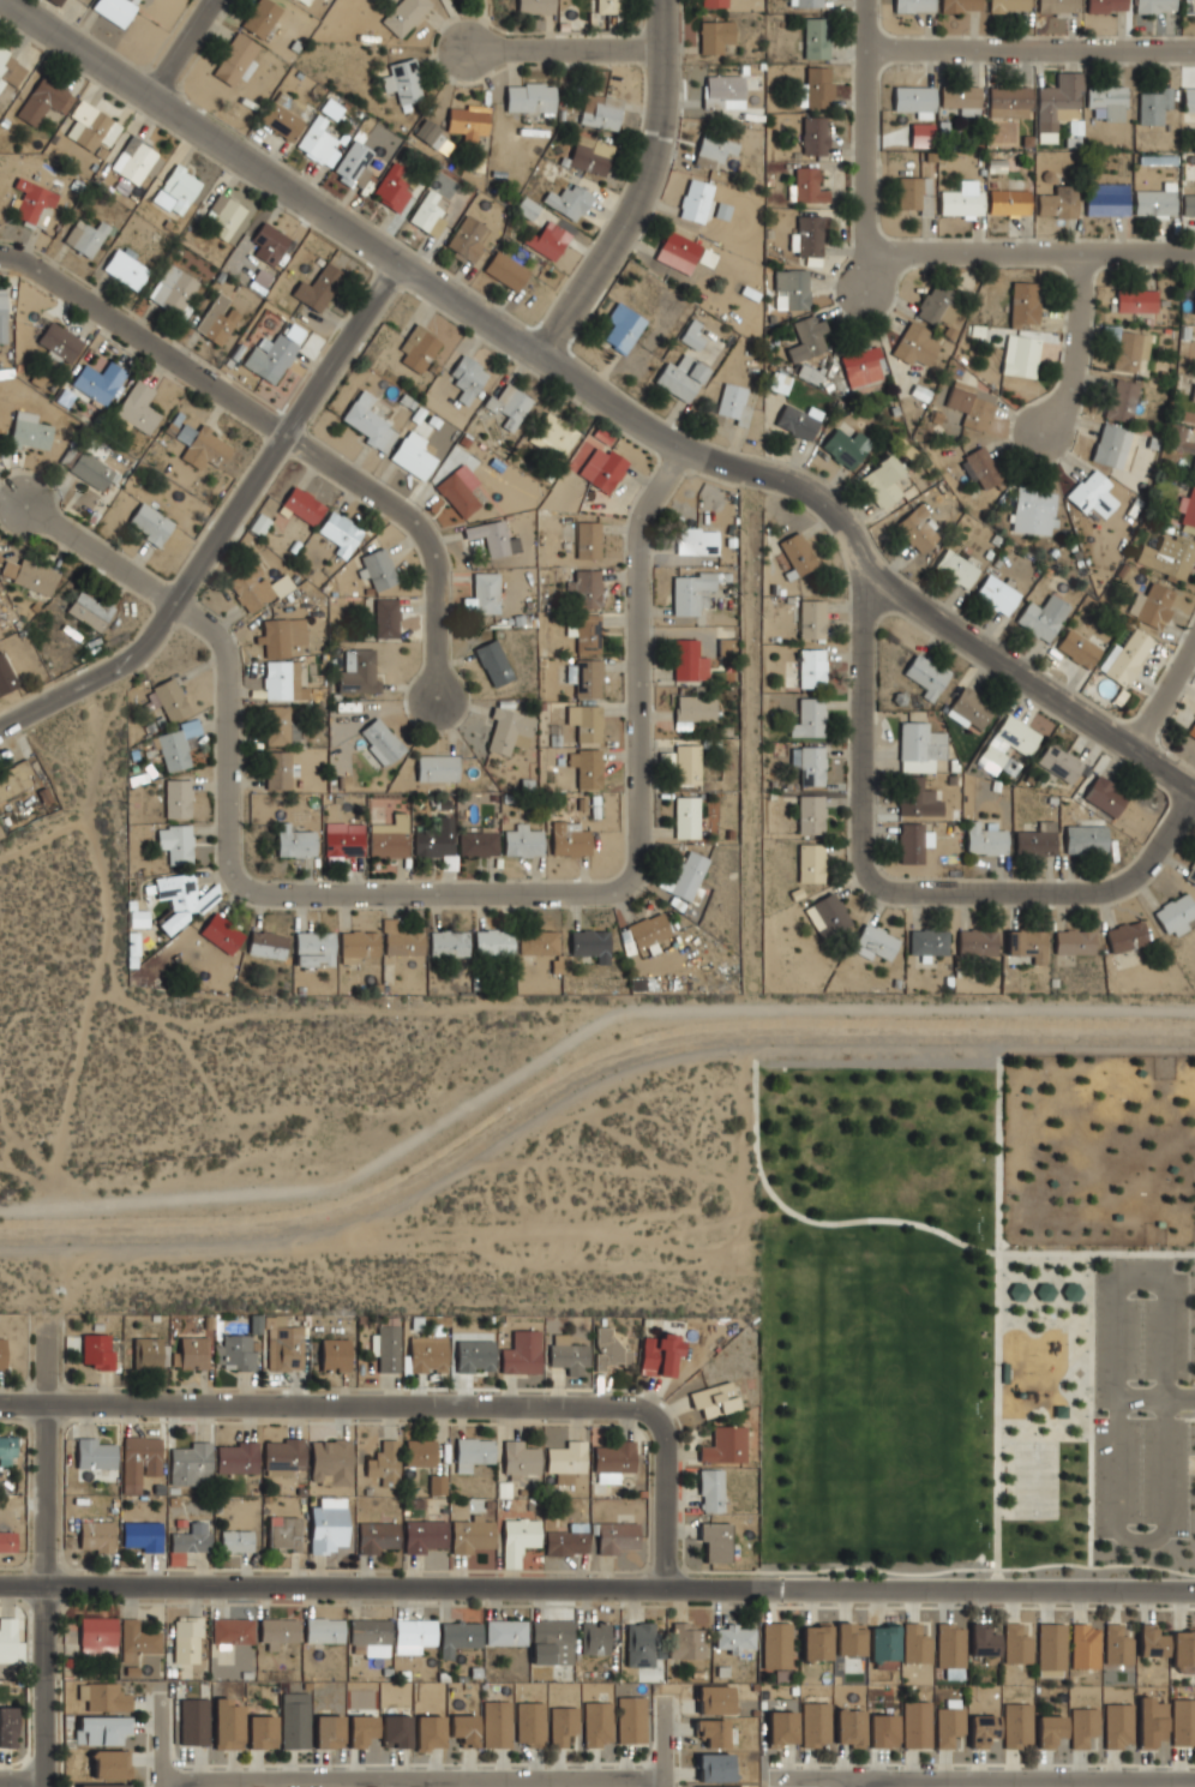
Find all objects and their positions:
building: (58, 1)
building: (304, 1)
building: (807, 2)
building: (713, 4)
building: (913, 5)
building: (536, 6)
building: (609, 6)
building: (960, 6)
building: (1009, 6)
building: (1058, 6)
building: (1106, 6)
building: (1155, 6)
building: (1189, 6)
building: (114, 10)
building: (404, 14)
building: (259, 17)
building: (714, 36)
building: (815, 37)
road: (1031, 48)
road: (179, 49)
road: (557, 50)
building: (234, 59)
building: (11, 67)
building: (404, 80)
building: (818, 86)
building: (722, 91)
building: (530, 96)
building: (960, 96)
building: (1189, 97)
building: (44, 100)
building: (914, 100)
building: (1107, 100)
building: (1010, 101)
building: (1058, 103)
building: (1153, 103)
building: (331, 108)
building: (603, 113)
building: (282, 119)
building: (469, 120)
building: (88, 125)
road: (866, 127)
road: (199, 131)
building: (427, 131)
building: (815, 134)
building: (920, 134)
building: (319, 142)
building: (714, 150)
building: (590, 155)
building: (134, 158)
building: (356, 161)
building: (805, 185)
building: (392, 187)
road: (636, 187)
building: (176, 188)
building: (913, 194)
building: (696, 199)
building: (962, 199)
building: (1106, 199)
building: (570, 200)
building: (34, 202)
building: (1008, 202)
building: (1057, 202)
building: (1154, 203)
building: (1189, 203)
building: (527, 206)
building: (431, 211)
building: (226, 212)
building: (807, 234)
building: (85, 236)
building: (468, 239)
building: (547, 240)
building: (269, 241)
building: (679, 251)
road: (1035, 253)
building: (126, 268)
building: (506, 270)
building: (318, 287)
building: (792, 288)
building: (172, 289)
building: (1135, 300)
building: (1025, 302)
building: (1194, 302)
building: (936, 305)
road: (469, 307)
building: (2, 317)
building: (216, 322)
building: (623, 326)
building: (691, 335)
building: (807, 336)
road: (144, 338)
building: (59, 342)
road: (1075, 343)
building: (915, 346)
building: (419, 347)
building: (1129, 349)
building: (274, 352)
building: (1021, 355)
building: (861, 366)
building: (468, 376)
building: (681, 377)
building: (781, 380)
building: (98, 382)
building: (1194, 395)
building: (1122, 400)
building: (972, 403)
building: (510, 404)
building: (733, 404)
building: (138, 407)
building: (367, 421)
building: (798, 421)
building: (29, 432)
building: (553, 436)
building: (1181, 440)
building: (202, 444)
building: (1111, 444)
building: (847, 445)
building: (413, 455)
building: (981, 467)
building: (1194, 467)
building: (90, 468)
building: (602, 468)
building: (881, 480)
building: (456, 493)
building: (1092, 493)
building: (302, 505)
building: (1188, 508)
building: (1033, 511)
road: (226, 522)
building: (149, 523)
building: (259, 523)
building: (917, 529)
building: (340, 530)
road: (424, 530)
building: (492, 538)
building: (588, 541)
building: (696, 541)
building: (798, 553)
building: (1167, 556)
road: (864, 565)
building: (955, 568)
building: (26, 575)
building: (280, 586)
building: (250, 588)
building: (584, 588)
building: (690, 593)
building: (482, 594)
building: (996, 594)
building: (1151, 605)
building: (88, 610)
building: (1041, 617)
building: (385, 618)
building: (811, 619)
building: (586, 634)
building: (282, 635)
building: (1076, 648)
building: (1124, 656)
building: (687, 661)
building: (492, 662)
building: (811, 667)
building: (359, 673)
building: (5, 676)
building: (925, 676)
building: (584, 677)
building: (281, 680)
road: (1164, 694)
building: (167, 698)
building: (968, 709)
building: (692, 710)
building: (1194, 715)
building: (809, 718)
building: (584, 722)
building: (276, 725)
building: (508, 731)
building: (1191, 731)
road: (750, 740)
building: (380, 742)
building: (1005, 744)
building: (176, 745)
building: (918, 748)
building: (1058, 762)
building: (686, 764)
building: (809, 764)
building: (436, 768)
building: (586, 768)
building: (277, 769)
building: (13, 779)
building: (1104, 796)
building: (176, 798)
building: (917, 798)
building: (810, 814)
building: (685, 817)
road: (1179, 833)
road: (47, 834)
building: (389, 838)
building: (434, 838)
building: (569, 839)
building: (984, 839)
building: (1085, 839)
building: (1035, 840)
building: (294, 841)
building: (344, 841)
building: (522, 841)
building: (912, 842)
building: (175, 844)
building: (478, 844)
road: (1165, 858)
road: (1170, 860)
building: (810, 863)
building: (687, 874)
building: (1190, 874)
road: (900, 890)
road: (413, 894)
building: (180, 899)
building: (1176, 915)
building: (827, 916)
building: (221, 933)
building: (647, 933)
building: (1125, 936)
building: (401, 941)
building: (1073, 941)
building: (492, 942)
building: (536, 942)
building: (625, 942)
building: (873, 942)
building: (927, 942)
building: (975, 942)
building: (448, 943)
building: (265, 945)
building: (356, 945)
building: (589, 945)
building: (1026, 945)
road: (98, 946)
building: (313, 948)
road: (358, 1011)
road: (575, 1031)
road: (23, 1143)
road: (907, 1222)
building: (1016, 1290)
building: (1044, 1290)
building: (1070, 1291)
park: (978, 1312)
building: (385, 1348)
building: (607, 1349)
building: (96, 1351)
building: (1, 1353)
building: (191, 1353)
building: (234, 1353)
building: (427, 1353)
building: (521, 1353)
building: (146, 1354)
building: (659, 1354)
building: (334, 1355)
building: (474, 1355)
building: (568, 1355)
building: (1003, 1372)
road: (1153, 1398)
building: (713, 1399)
road: (414, 1404)
building: (1059, 1411)
building: (723, 1445)
building: (6, 1451)
building: (419, 1452)
building: (472, 1452)
building: (94, 1455)
building: (283, 1457)
building: (238, 1458)
building: (520, 1459)
building: (330, 1461)
building: (565, 1461)
building: (612, 1461)
building: (139, 1462)
building: (384, 1463)
building: (191, 1464)
road: (993, 1477)
park: (1034, 1479)
building: (437, 1485)
building: (710, 1491)
building: (326, 1525)
building: (283, 1534)
building: (143, 1535)
building: (424, 1535)
building: (470, 1535)
building: (95, 1536)
building: (376, 1536)
building: (615, 1536)
building: (191, 1539)
road: (1137, 1539)
building: (517, 1540)
building: (566, 1540)
building: (235, 1541)
building: (714, 1541)
building: (7, 1542)
road: (44, 1558)
road: (596, 1587)
building: (323, 1630)
building: (232, 1631)
building: (277, 1631)
building: (505, 1632)
building: (97, 1635)
building: (413, 1636)
building: (368, 1637)
building: (457, 1637)
building: (594, 1637)
building: (734, 1638)
building: (848, 1638)
building: (136, 1641)
building: (685, 1641)
building: (981, 1641)
building: (1151, 1641)
building: (186, 1642)
building: (551, 1642)
building: (816, 1642)
building: (10, 1643)
building: (914, 1643)
building: (638, 1644)
building: (1015, 1644)
building: (775, 1645)
building: (1116, 1645)
building: (1083, 1647)
building: (949, 1649)
building: (1050, 1649)
building: (1183, 1651)
building: (103, 1697)
building: (714, 1699)
building: (293, 1720)
building: (630, 1720)
building: (193, 1721)
building: (948, 1722)
building: (1149, 1722)
building: (1182, 1722)
building: (496, 1723)
building: (529, 1723)
building: (596, 1723)
building: (813, 1723)
building: (226, 1725)
building: (562, 1725)
building: (915, 1725)
building: (1016, 1725)
building: (1117, 1725)
building: (1081, 1726)
building: (6, 1727)
building: (848, 1727)
building: (463, 1728)
building: (781, 1728)
building: (101, 1729)
building: (360, 1729)
building: (981, 1729)
building: (328, 1731)
building: (395, 1731)
building: (882, 1731)
building: (1049, 1731)
building: (260, 1732)
building: (428, 1732)
building: (711, 1732)
road: (158, 1740)
road: (661, 1743)
building: (109, 1764)
building: (714, 1768)
road: (20, 1779)
road: (981, 1781)
road: (410, 1782)
road: (851, 1783)
building: (104, 1785)
building: (735, 1786)

